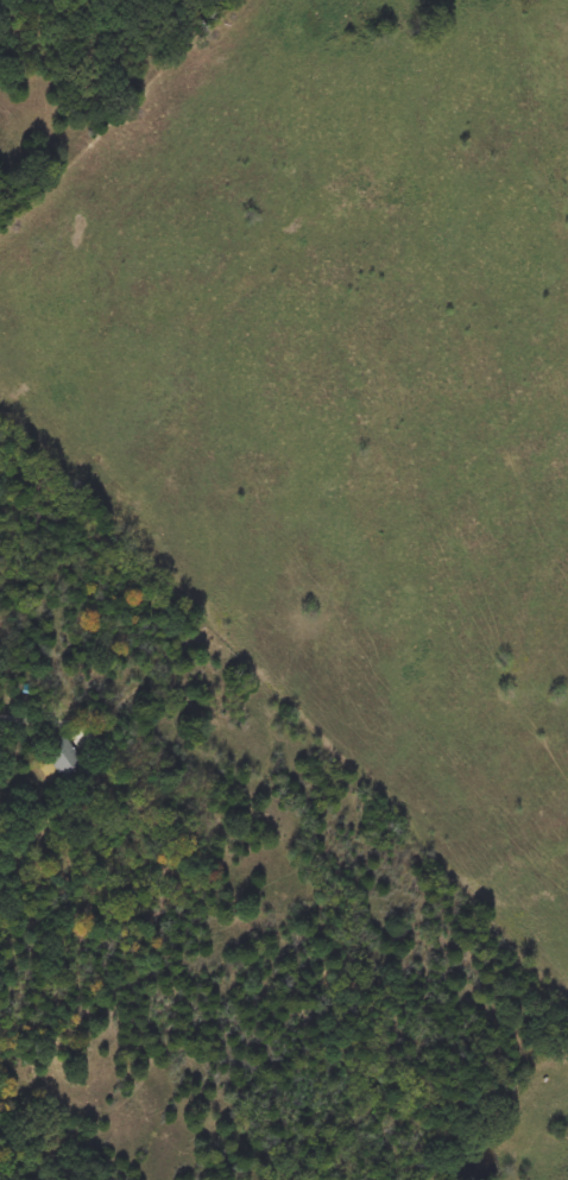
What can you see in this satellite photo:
road: (24, 722)
building: (62, 757)

